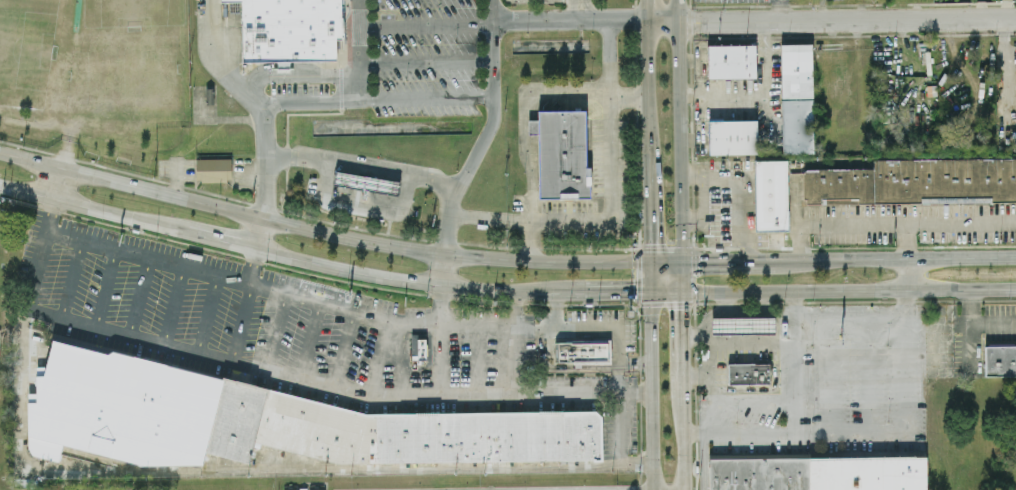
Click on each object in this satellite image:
road: (581, 10)
road: (647, 10)
road: (781, 10)
park: (134, 12)
road: (831, 19)
road: (569, 20)
road: (425, 24)
building: (290, 30)
road: (232, 46)
park: (25, 50)
road: (357, 50)
building: (731, 60)
road: (425, 63)
road: (296, 74)
road: (759, 91)
road: (587, 97)
building: (797, 98)
road: (374, 100)
road: (493, 100)
road: (251, 103)
road: (648, 103)
road: (680, 130)
building: (732, 135)
road: (692, 139)
building: (562, 154)
building: (213, 169)
road: (390, 170)
road: (530, 179)
road: (58, 182)
building: (366, 182)
building: (915, 182)
building: (771, 193)
road: (704, 194)
road: (747, 197)
road: (609, 202)
road: (361, 206)
road: (93, 207)
road: (796, 210)
parking lot: (835, 216)
road: (651, 224)
road: (906, 226)
road: (389, 227)
road: (322, 230)
road: (257, 233)
road: (219, 239)
road: (39, 252)
road: (895, 257)
road: (667, 260)
traffic signals: (682, 260)
road: (729, 260)
traffic signals: (652, 261)
road: (249, 265)
road: (443, 271)
road: (651, 275)
road: (682, 275)
road: (71, 279)
road: (392, 280)
road: (104, 288)
traffic signals: (650, 289)
road: (666, 289)
road: (616, 290)
traffic signals: (682, 290)
road: (849, 290)
road: (558, 291)
road: (139, 296)
road: (173, 305)
road: (328, 305)
road: (440, 307)
road: (555, 310)
road: (206, 314)
road: (849, 321)
road: (993, 322)
road: (241, 323)
building: (743, 325)
road: (971, 326)
road: (275, 332)
road: (682, 335)
road: (309, 341)
road: (514, 343)
building: (418, 347)
road: (343, 350)
building: (582, 351)
road: (379, 358)
road: (398, 360)
road: (438, 360)
road: (477, 360)
building: (1000, 360)
road: (792, 361)
road: (634, 362)
road: (563, 370)
building: (748, 373)
road: (831, 376)
road: (867, 376)
road: (331, 387)
road: (648, 389)
road: (619, 396)
road: (750, 397)
road: (709, 416)
road: (894, 430)
road: (681, 435)
road: (258, 469)
building: (818, 473)

